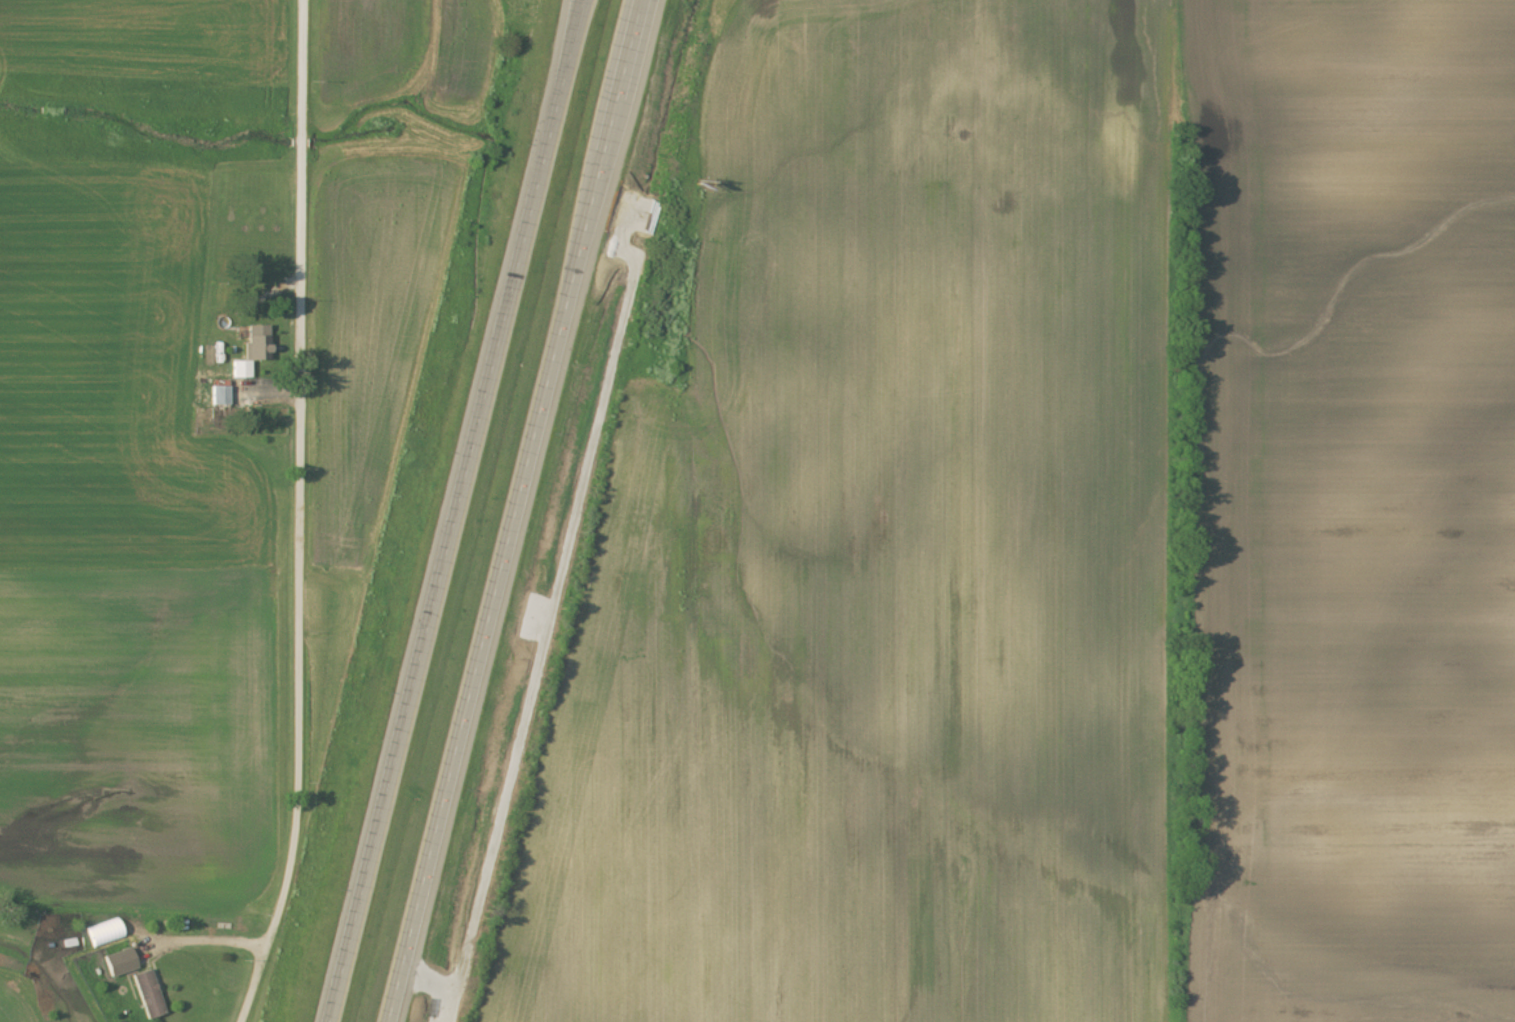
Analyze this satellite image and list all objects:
building: (257, 343)
building: (242, 370)
building: (220, 396)
road: (444, 510)
road: (509, 510)
road: (300, 515)
road: (203, 940)
building: (120, 964)
building: (148, 996)

